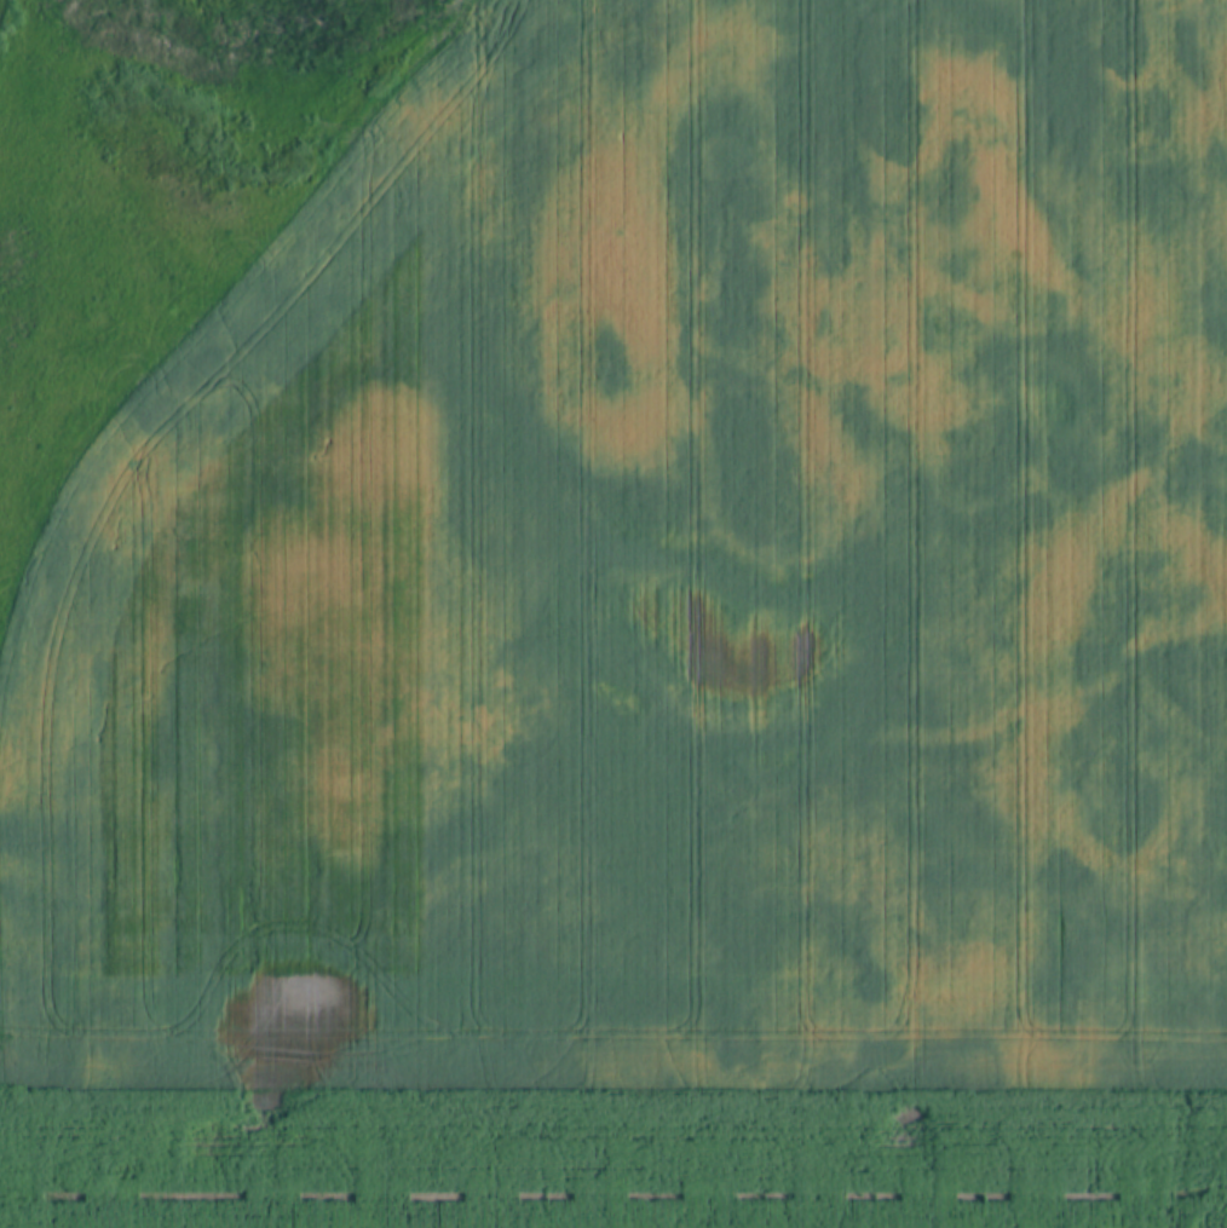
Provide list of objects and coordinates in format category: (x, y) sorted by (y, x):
road: (612, 1100)

